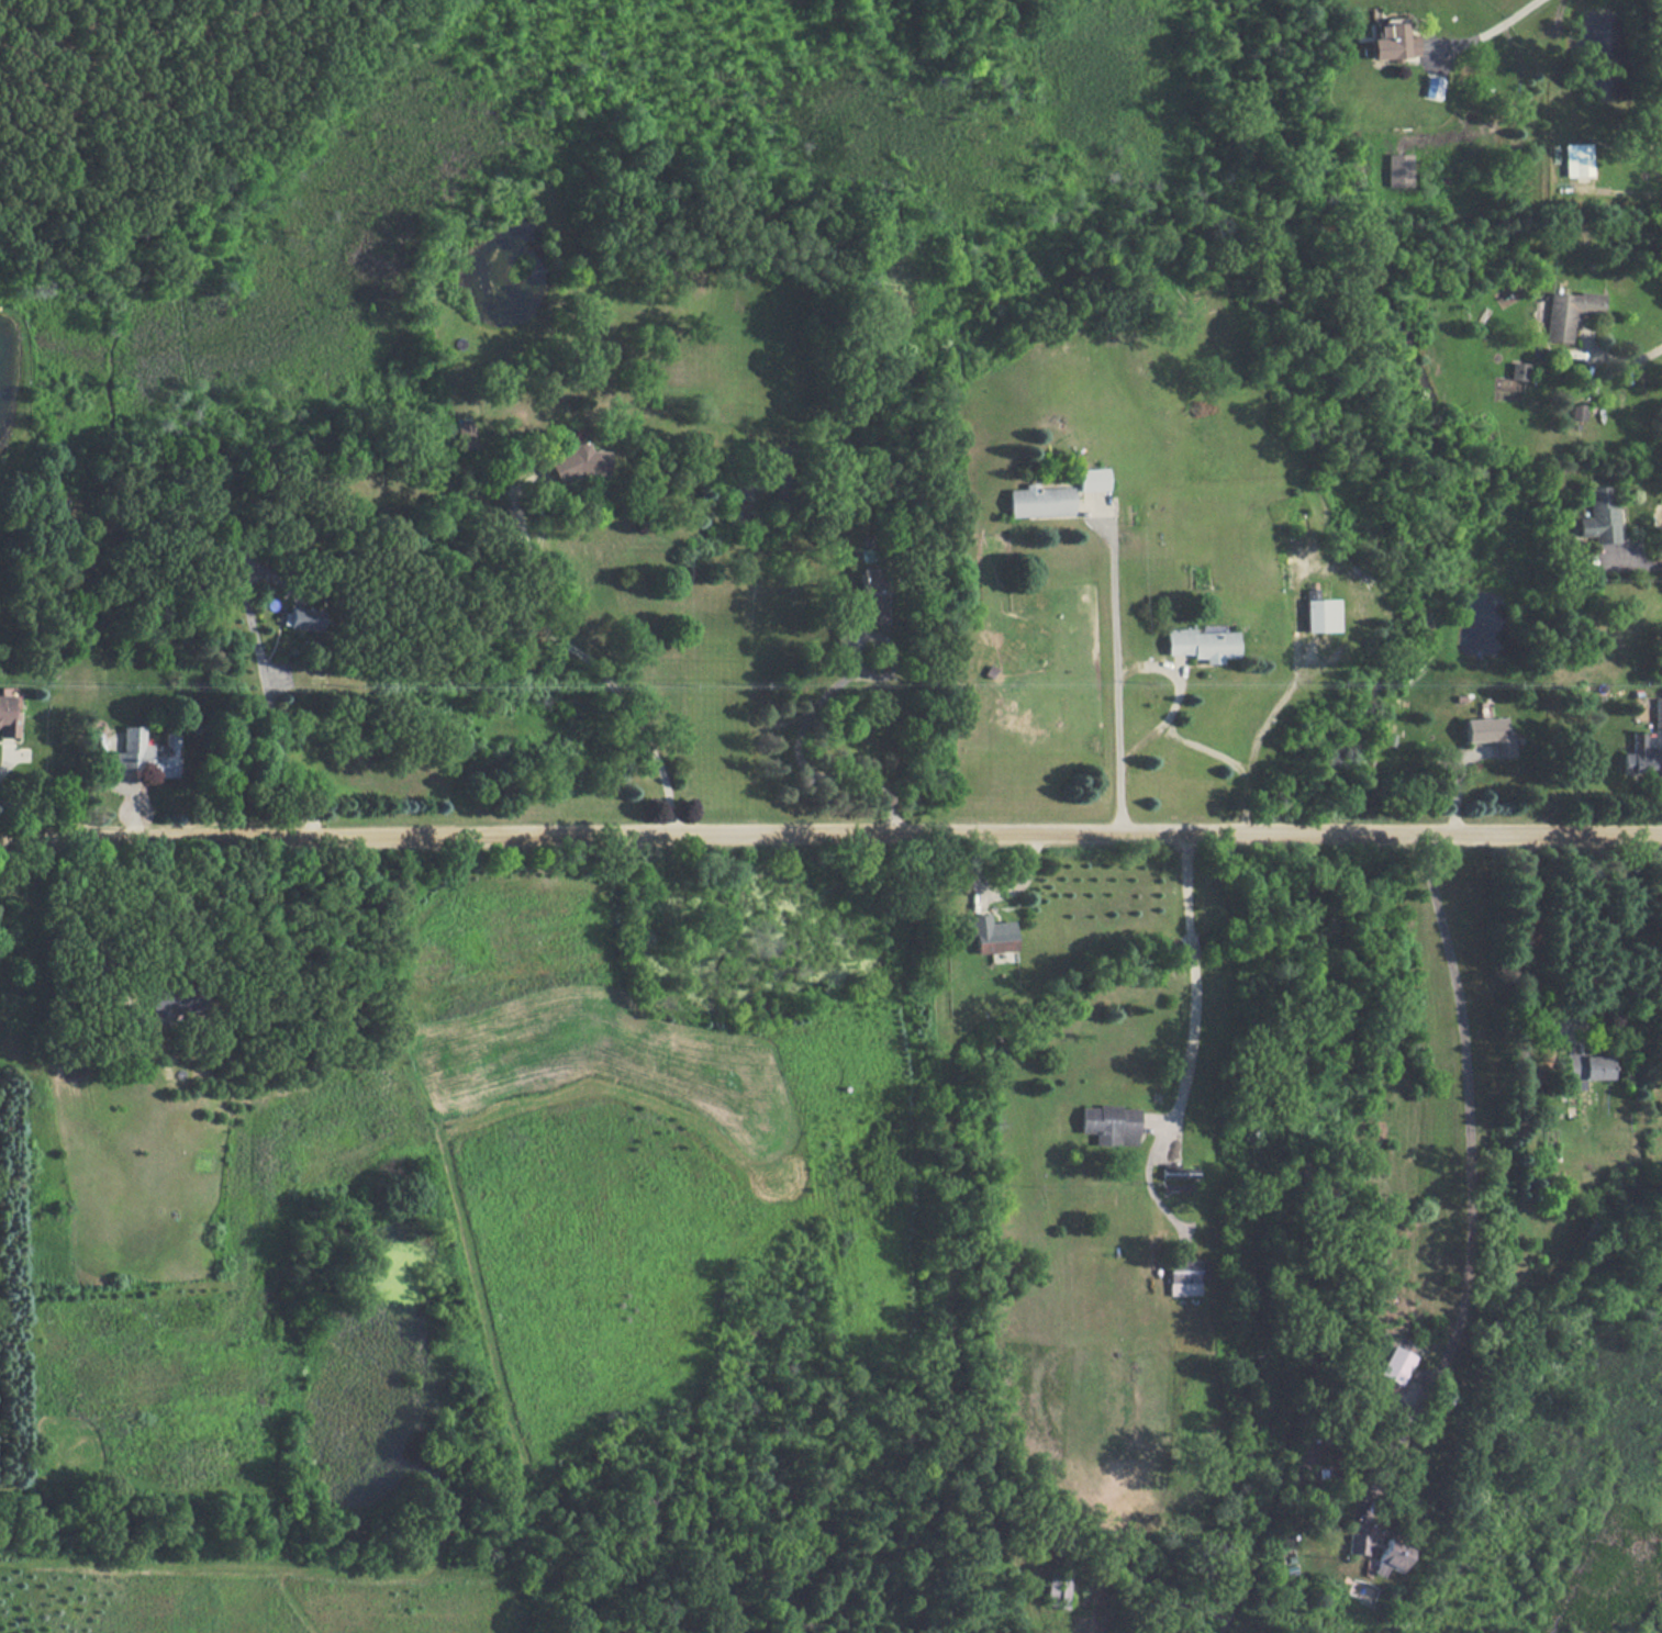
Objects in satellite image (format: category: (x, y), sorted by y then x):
road: (1494, 30)
building: (1392, 41)
building: (1431, 87)
building: (1576, 158)
building: (1398, 169)
building: (1568, 312)
building: (1518, 370)
road: (1627, 374)
building: (1577, 411)
building: (465, 434)
building: (579, 462)
building: (1093, 478)
building: (741, 490)
building: (1039, 500)
building: (1599, 515)
road: (1638, 578)
building: (872, 595)
building: (1321, 614)
building: (302, 617)
building: (1201, 642)
road: (589, 661)
road: (1116, 672)
building: (8, 711)
building: (1657, 712)
road: (272, 715)
building: (1490, 734)
road: (1214, 752)
building: (146, 753)
building: (1639, 757)
road: (7, 761)
road: (799, 761)
road: (830, 835)
road: (80, 928)
building: (992, 933)
road: (1525, 949)
road: (1194, 988)
building: (172, 1002)
building: (1584, 1067)
building: (1109, 1123)
road: (1466, 1165)
building: (1179, 1172)
building: (1185, 1275)
building: (1396, 1364)
building: (1354, 1543)
building: (1388, 1556)
building: (1063, 1585)

